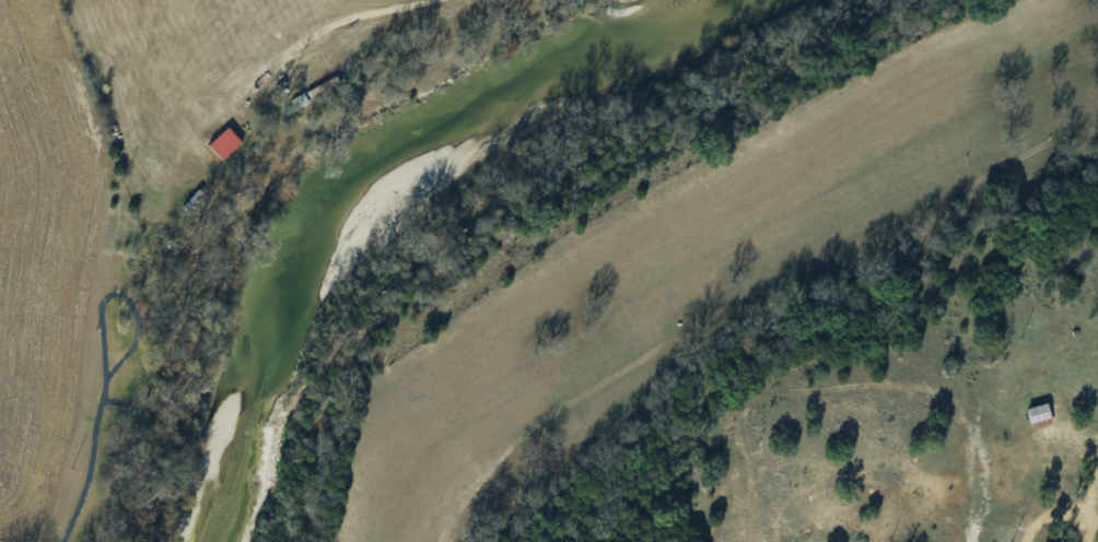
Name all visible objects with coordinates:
building: (226, 143)
river: (341, 175)
building: (1033, 412)
road: (96, 433)
building: (1097, 508)
road: (1029, 537)

